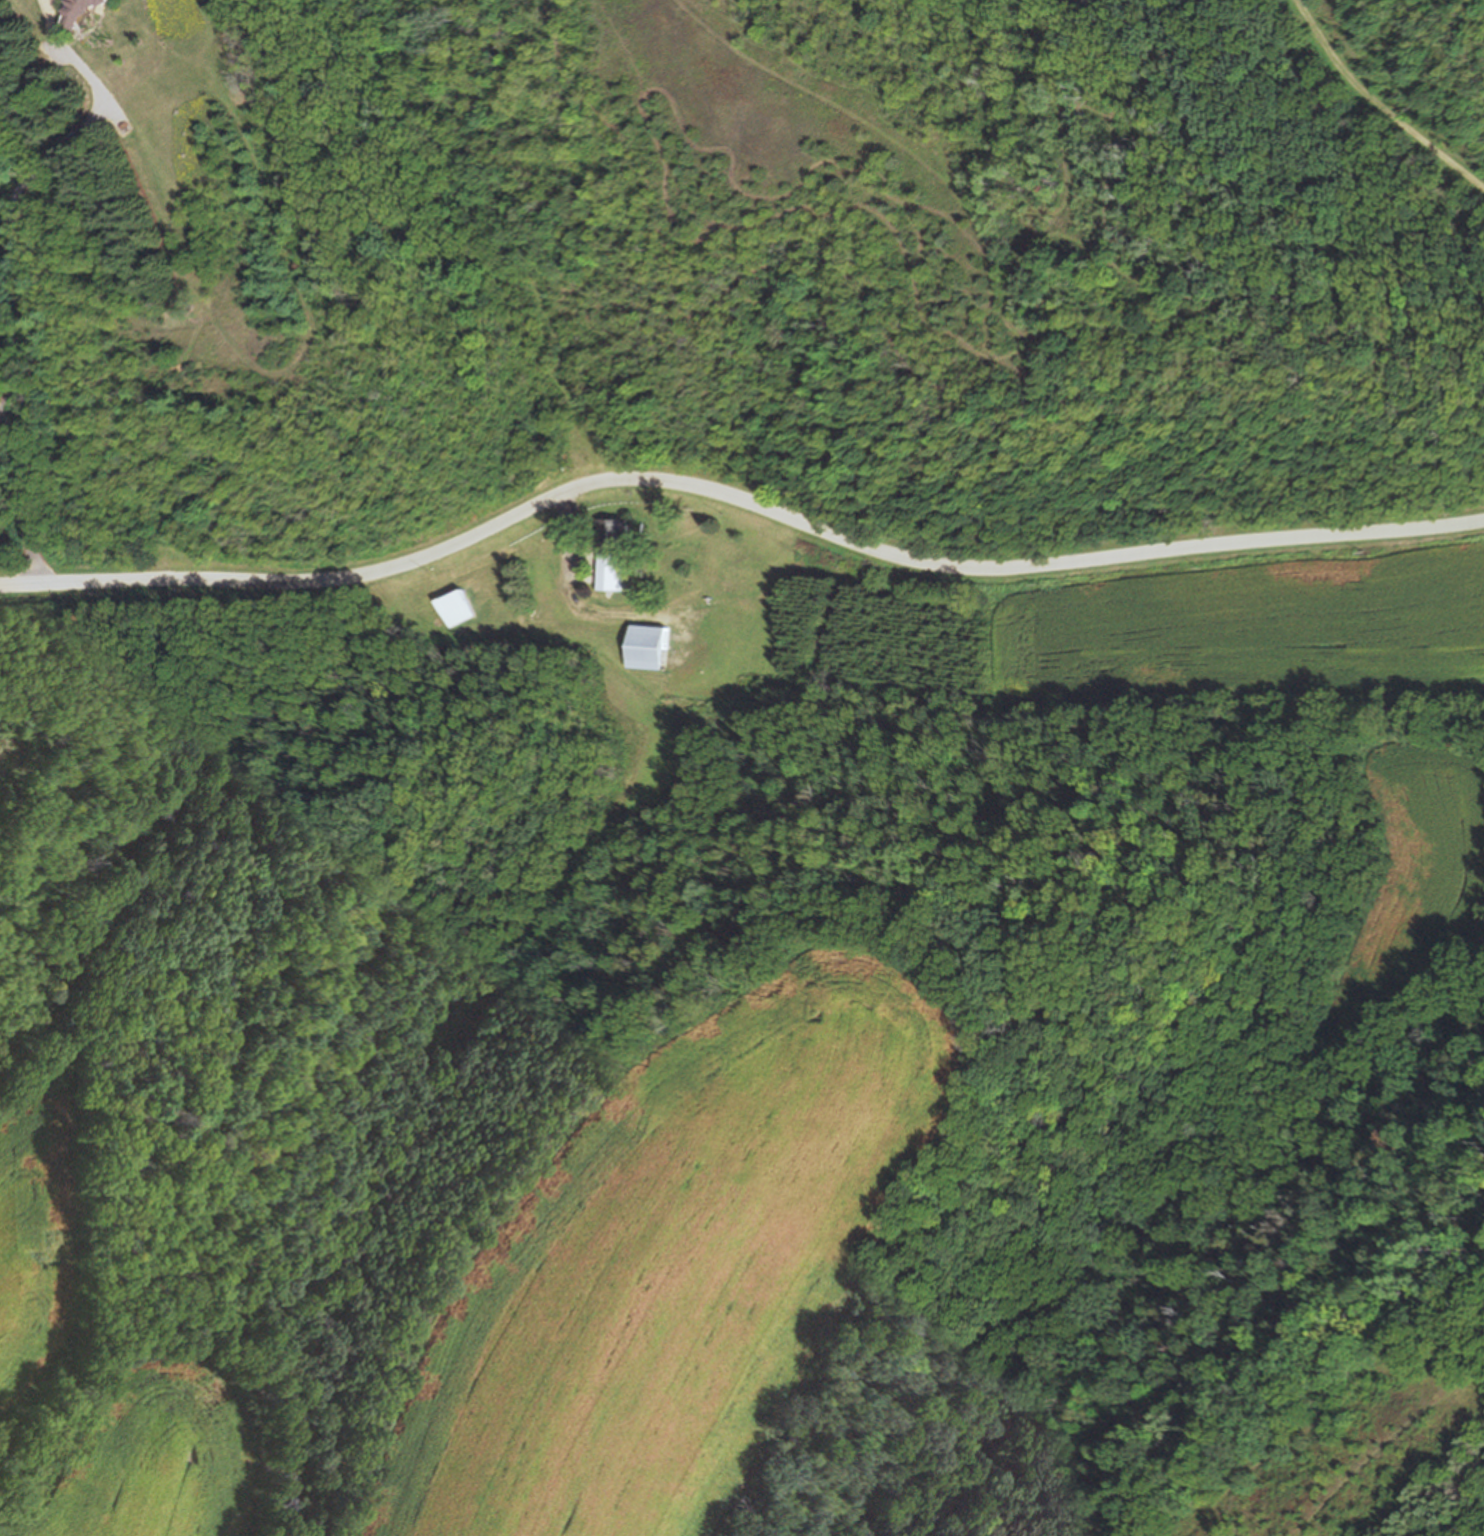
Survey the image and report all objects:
building: (80, 11)
road: (1378, 106)
road: (26, 270)
road: (738, 498)
building: (613, 549)
building: (695, 555)
building: (460, 606)
building: (713, 627)
building: (651, 646)
building: (742, 651)
building: (716, 681)
building: (3, 763)

